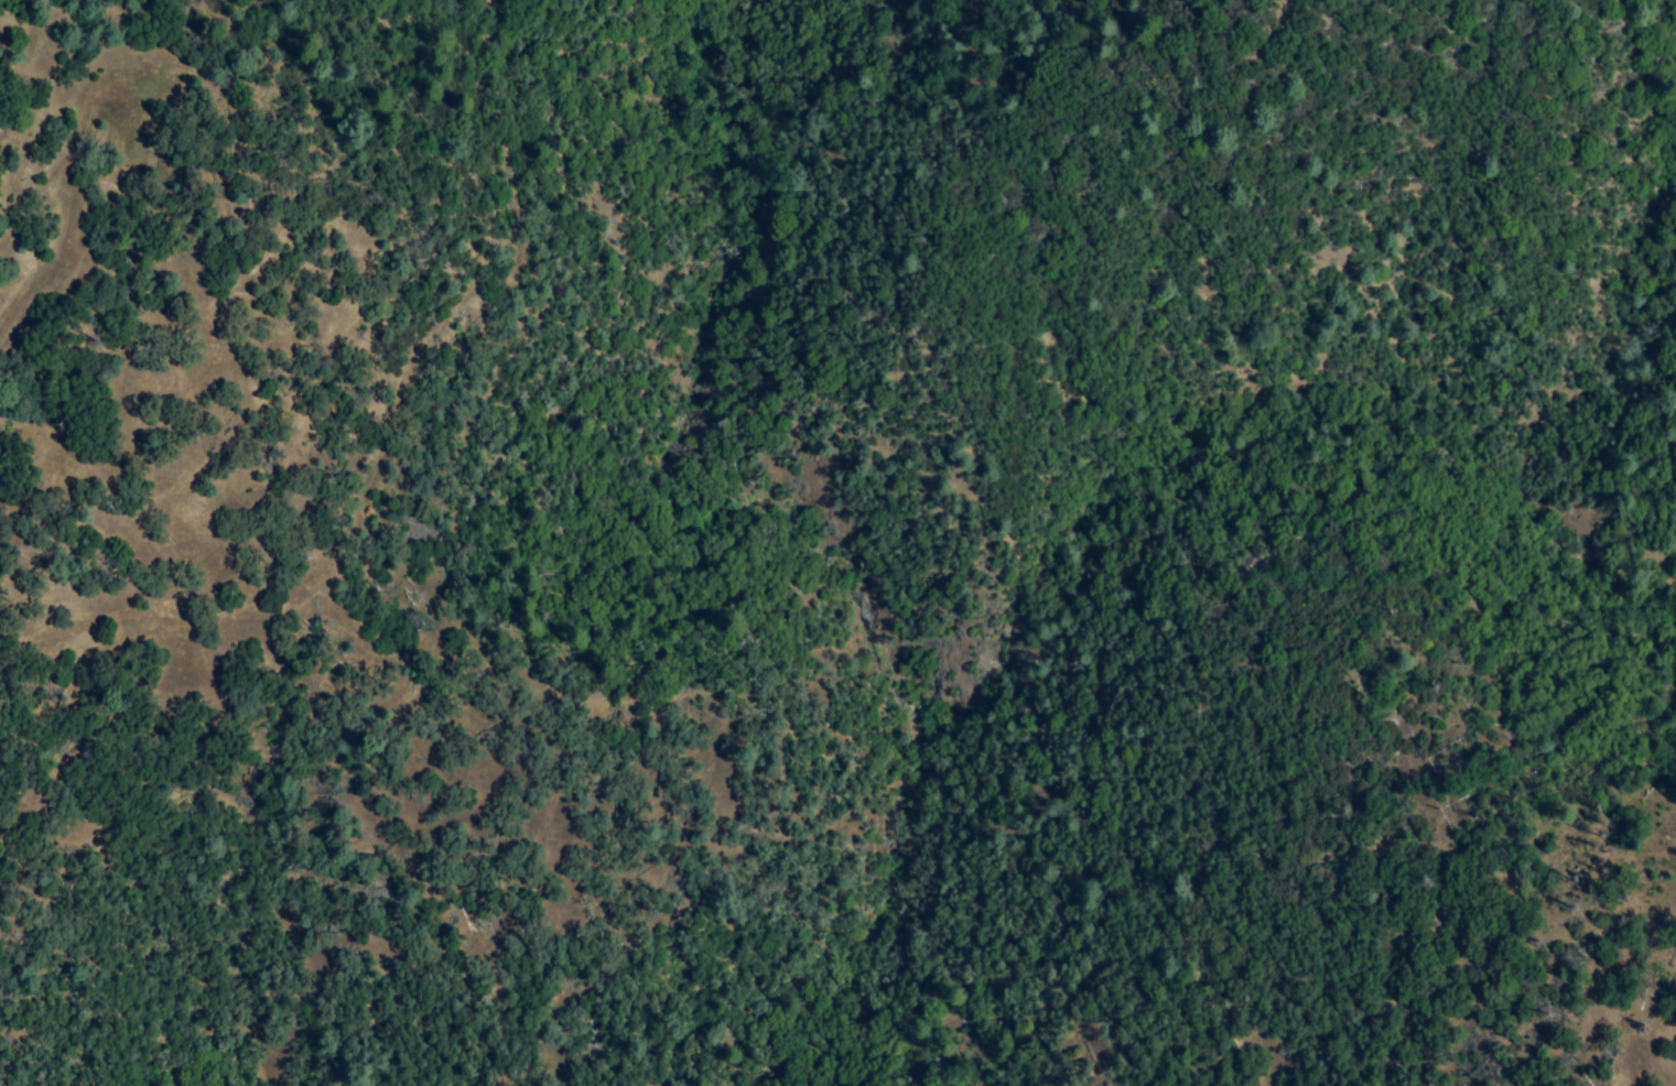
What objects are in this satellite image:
road: (453, 735)

